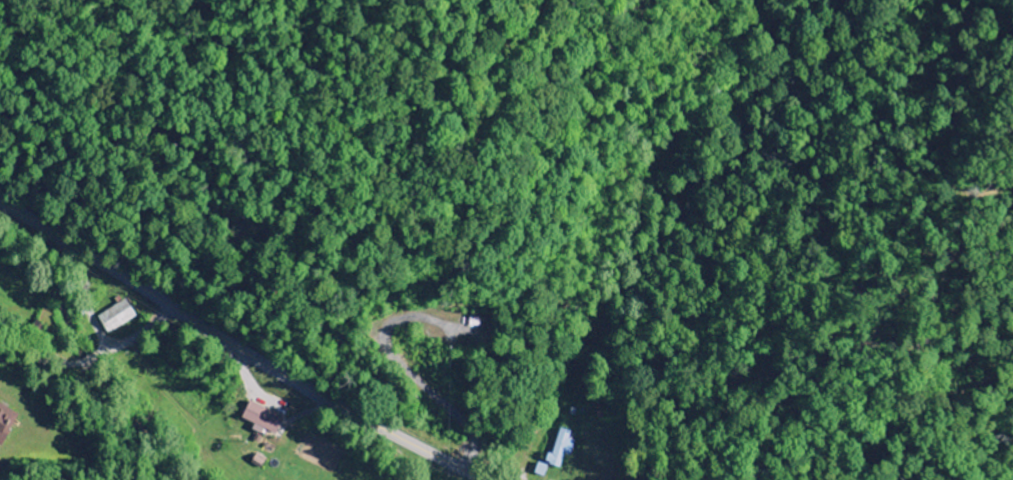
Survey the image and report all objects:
building: (116, 317)
road: (101, 346)
road: (238, 348)
building: (262, 418)
building: (6, 421)
building: (560, 448)
building: (541, 470)

